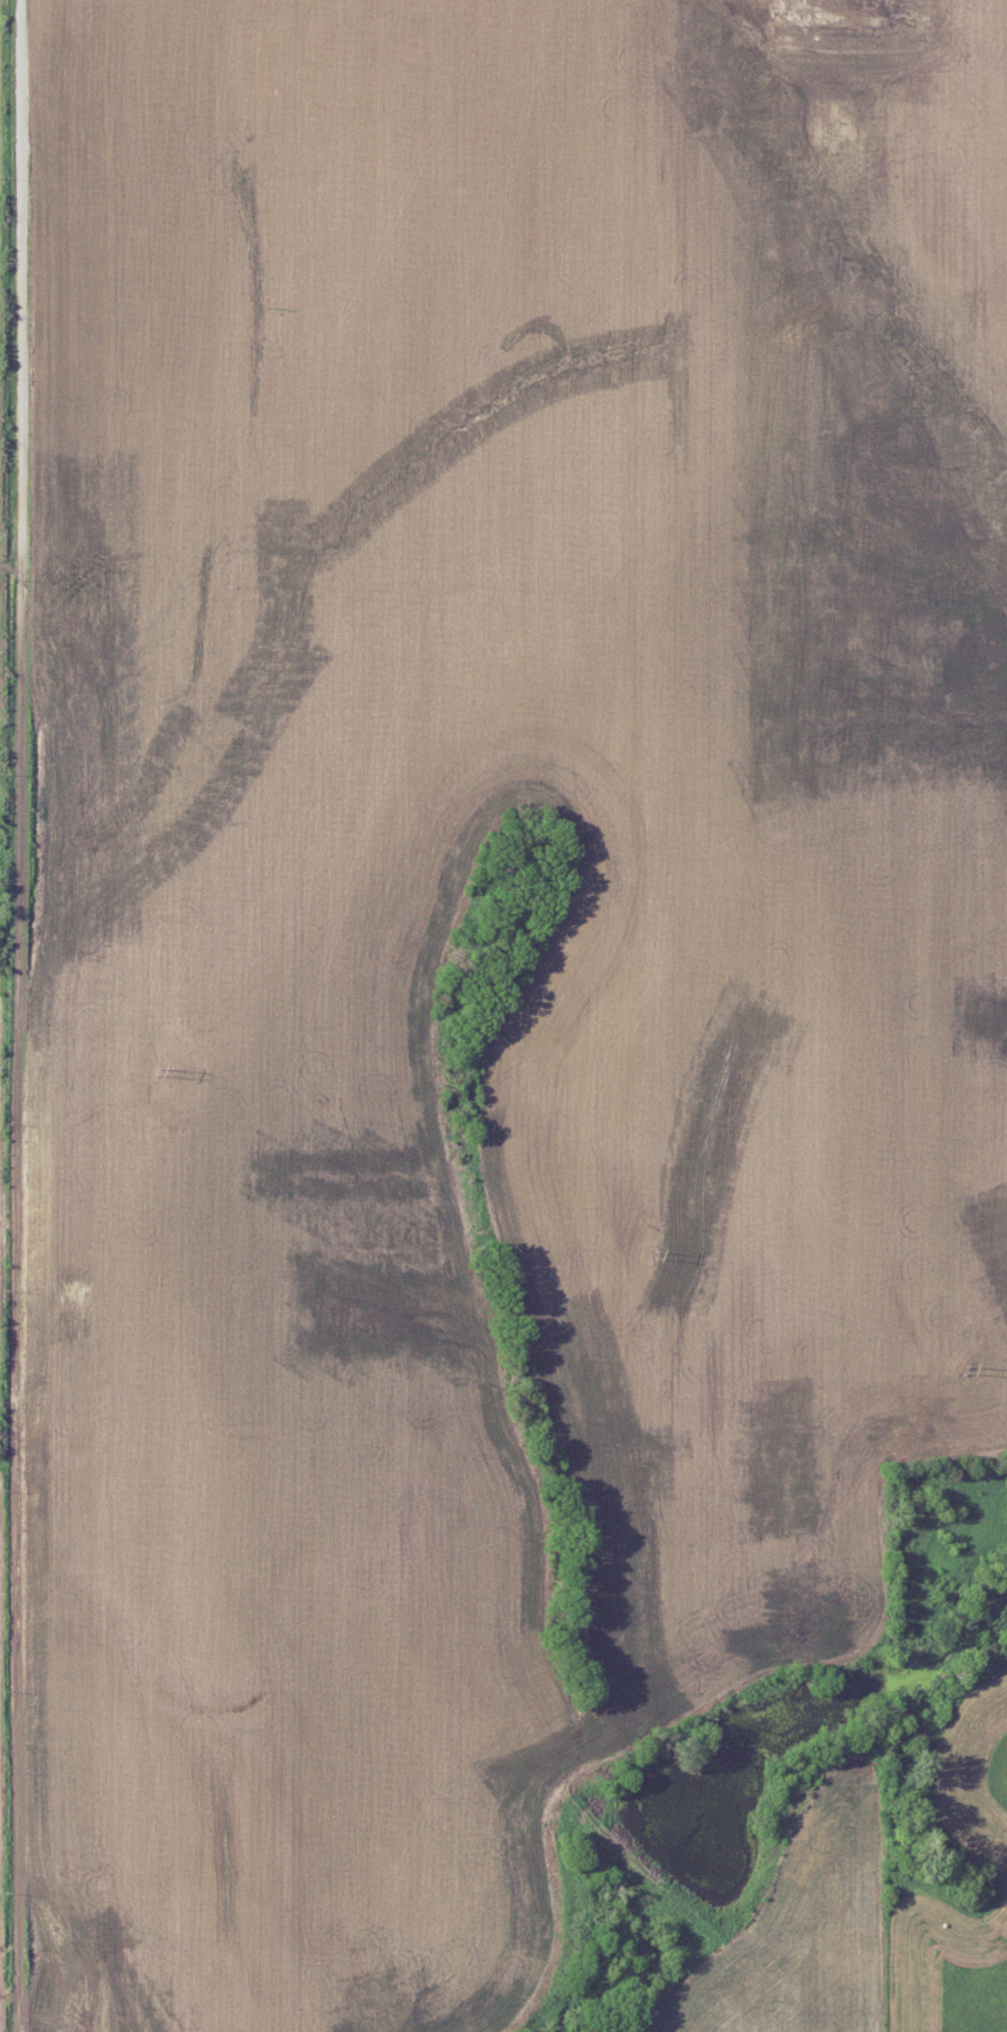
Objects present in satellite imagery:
road: (20, 1015)

